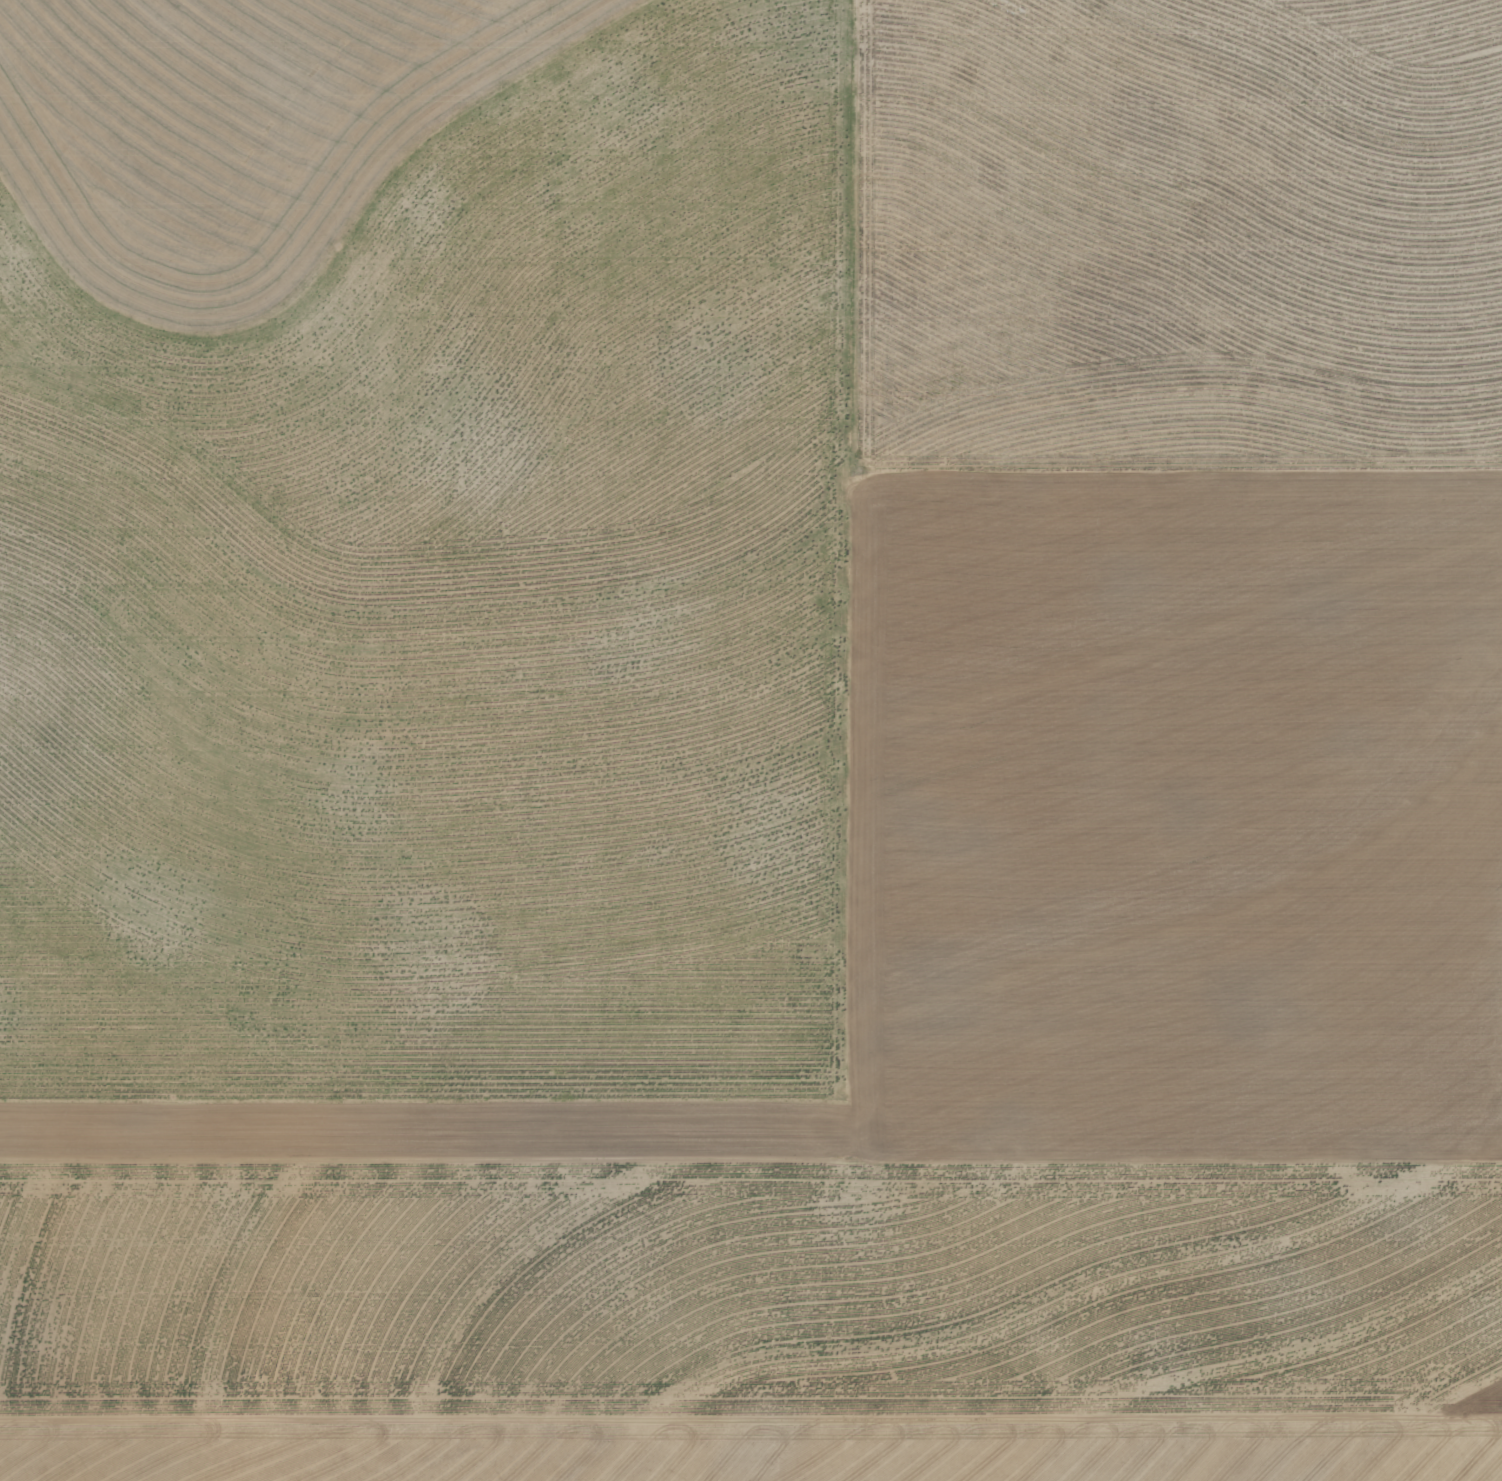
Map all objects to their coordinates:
road: (893, 981)
road: (751, 1176)

